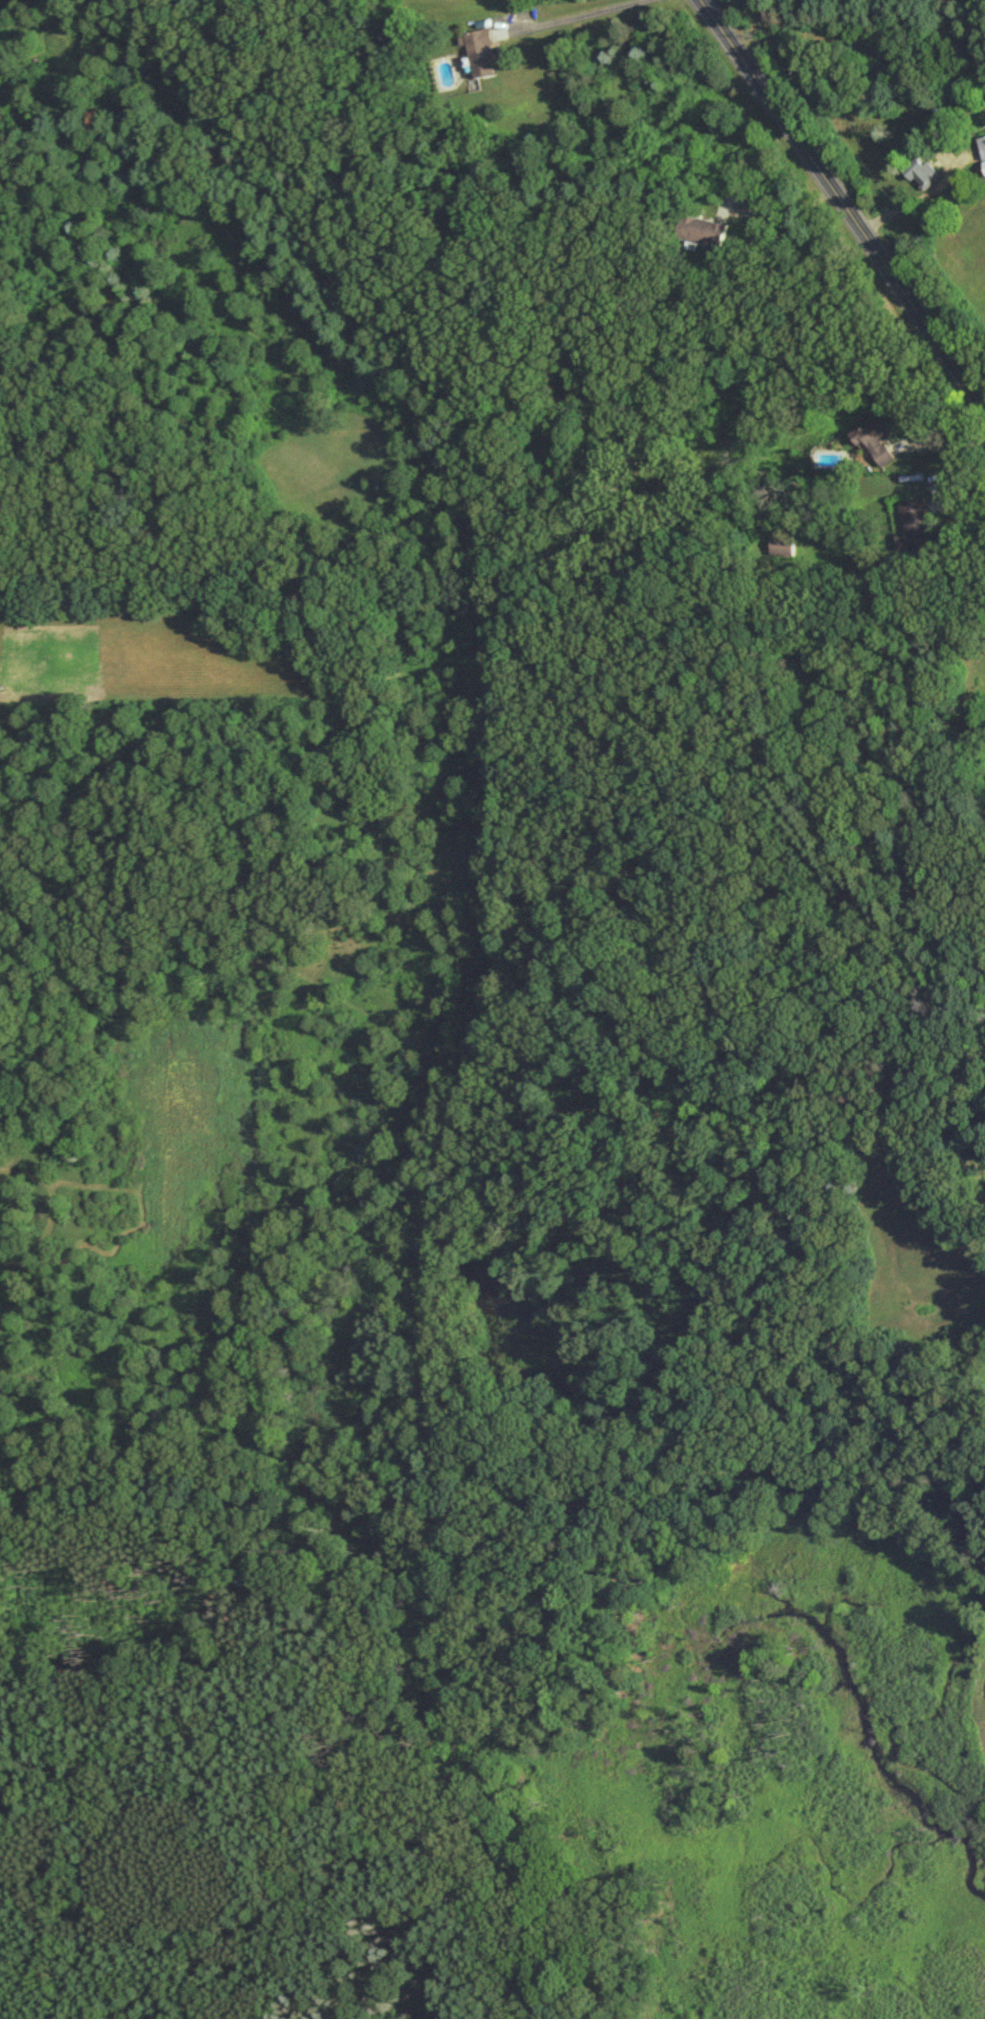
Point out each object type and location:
road: (581, 14)
building: (483, 52)
building: (983, 142)
building: (925, 172)
road: (845, 200)
road: (784, 208)
building: (705, 230)
building: (878, 437)
road: (955, 467)
building: (917, 527)
building: (784, 545)

